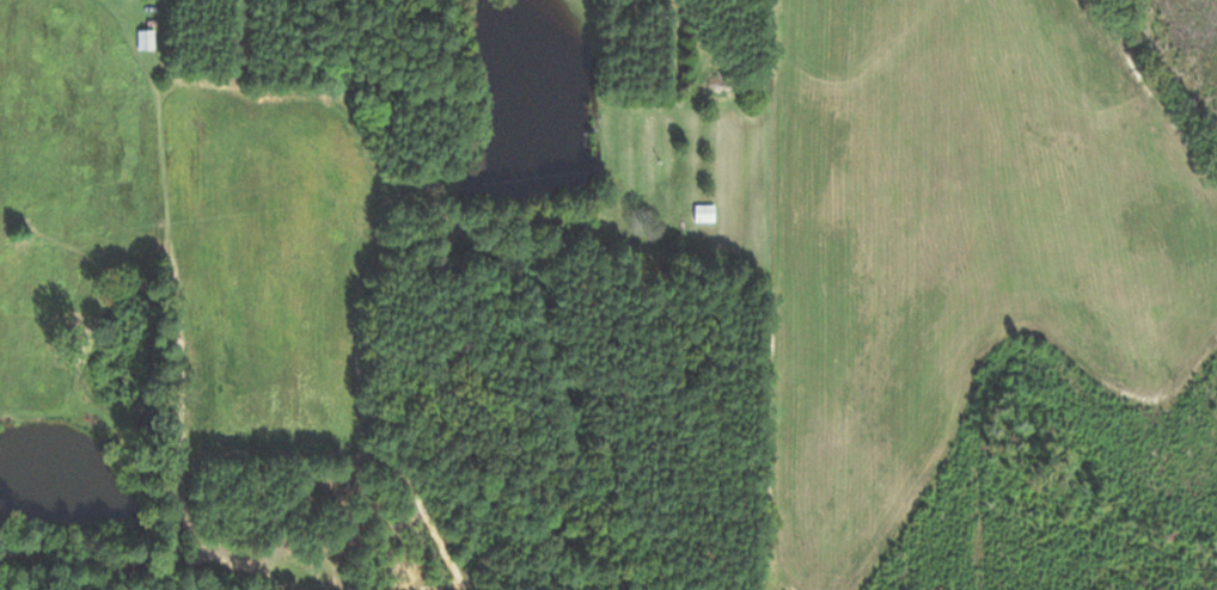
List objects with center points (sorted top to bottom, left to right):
building: (148, 42)
road: (1156, 88)
building: (703, 215)
road: (363, 413)
park: (44, 583)

